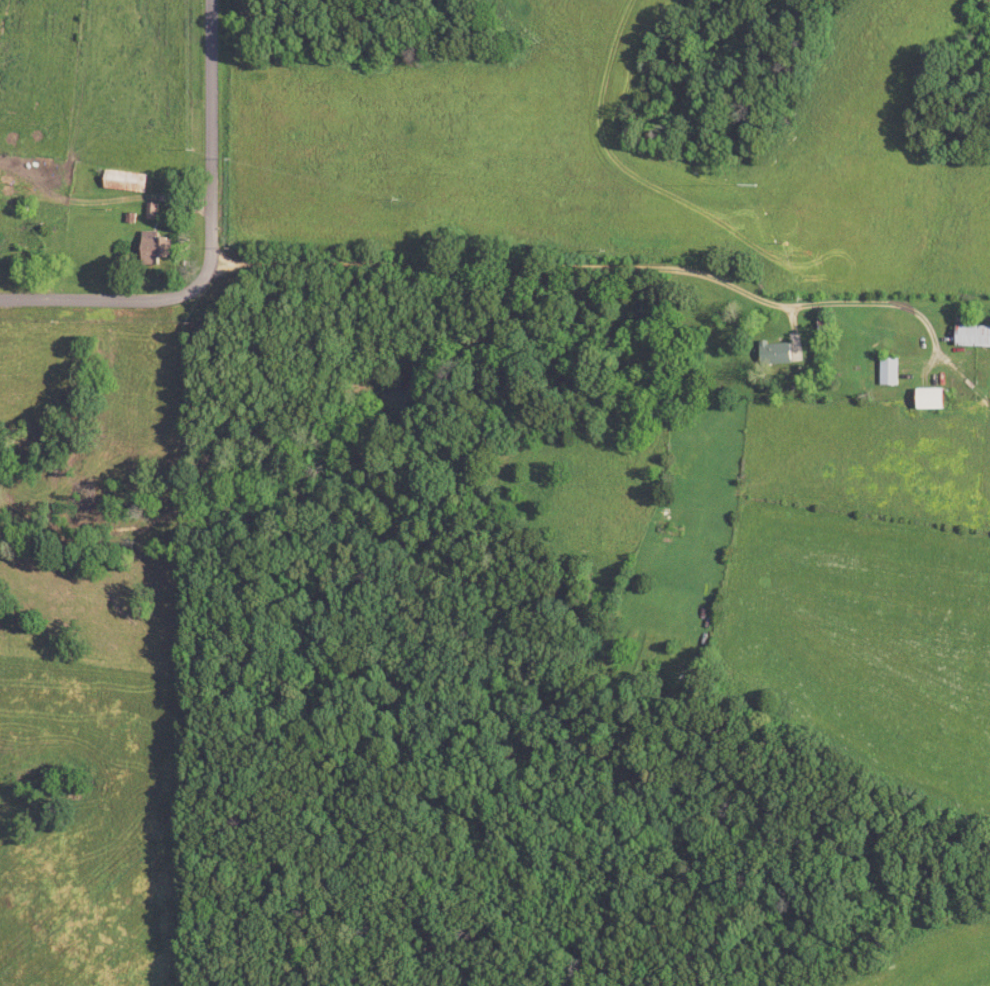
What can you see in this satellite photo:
building: (130, 182)
road: (98, 203)
building: (157, 213)
road: (202, 240)
building: (159, 249)
road: (609, 266)
building: (976, 338)
building: (780, 356)
building: (893, 373)
building: (937, 400)

